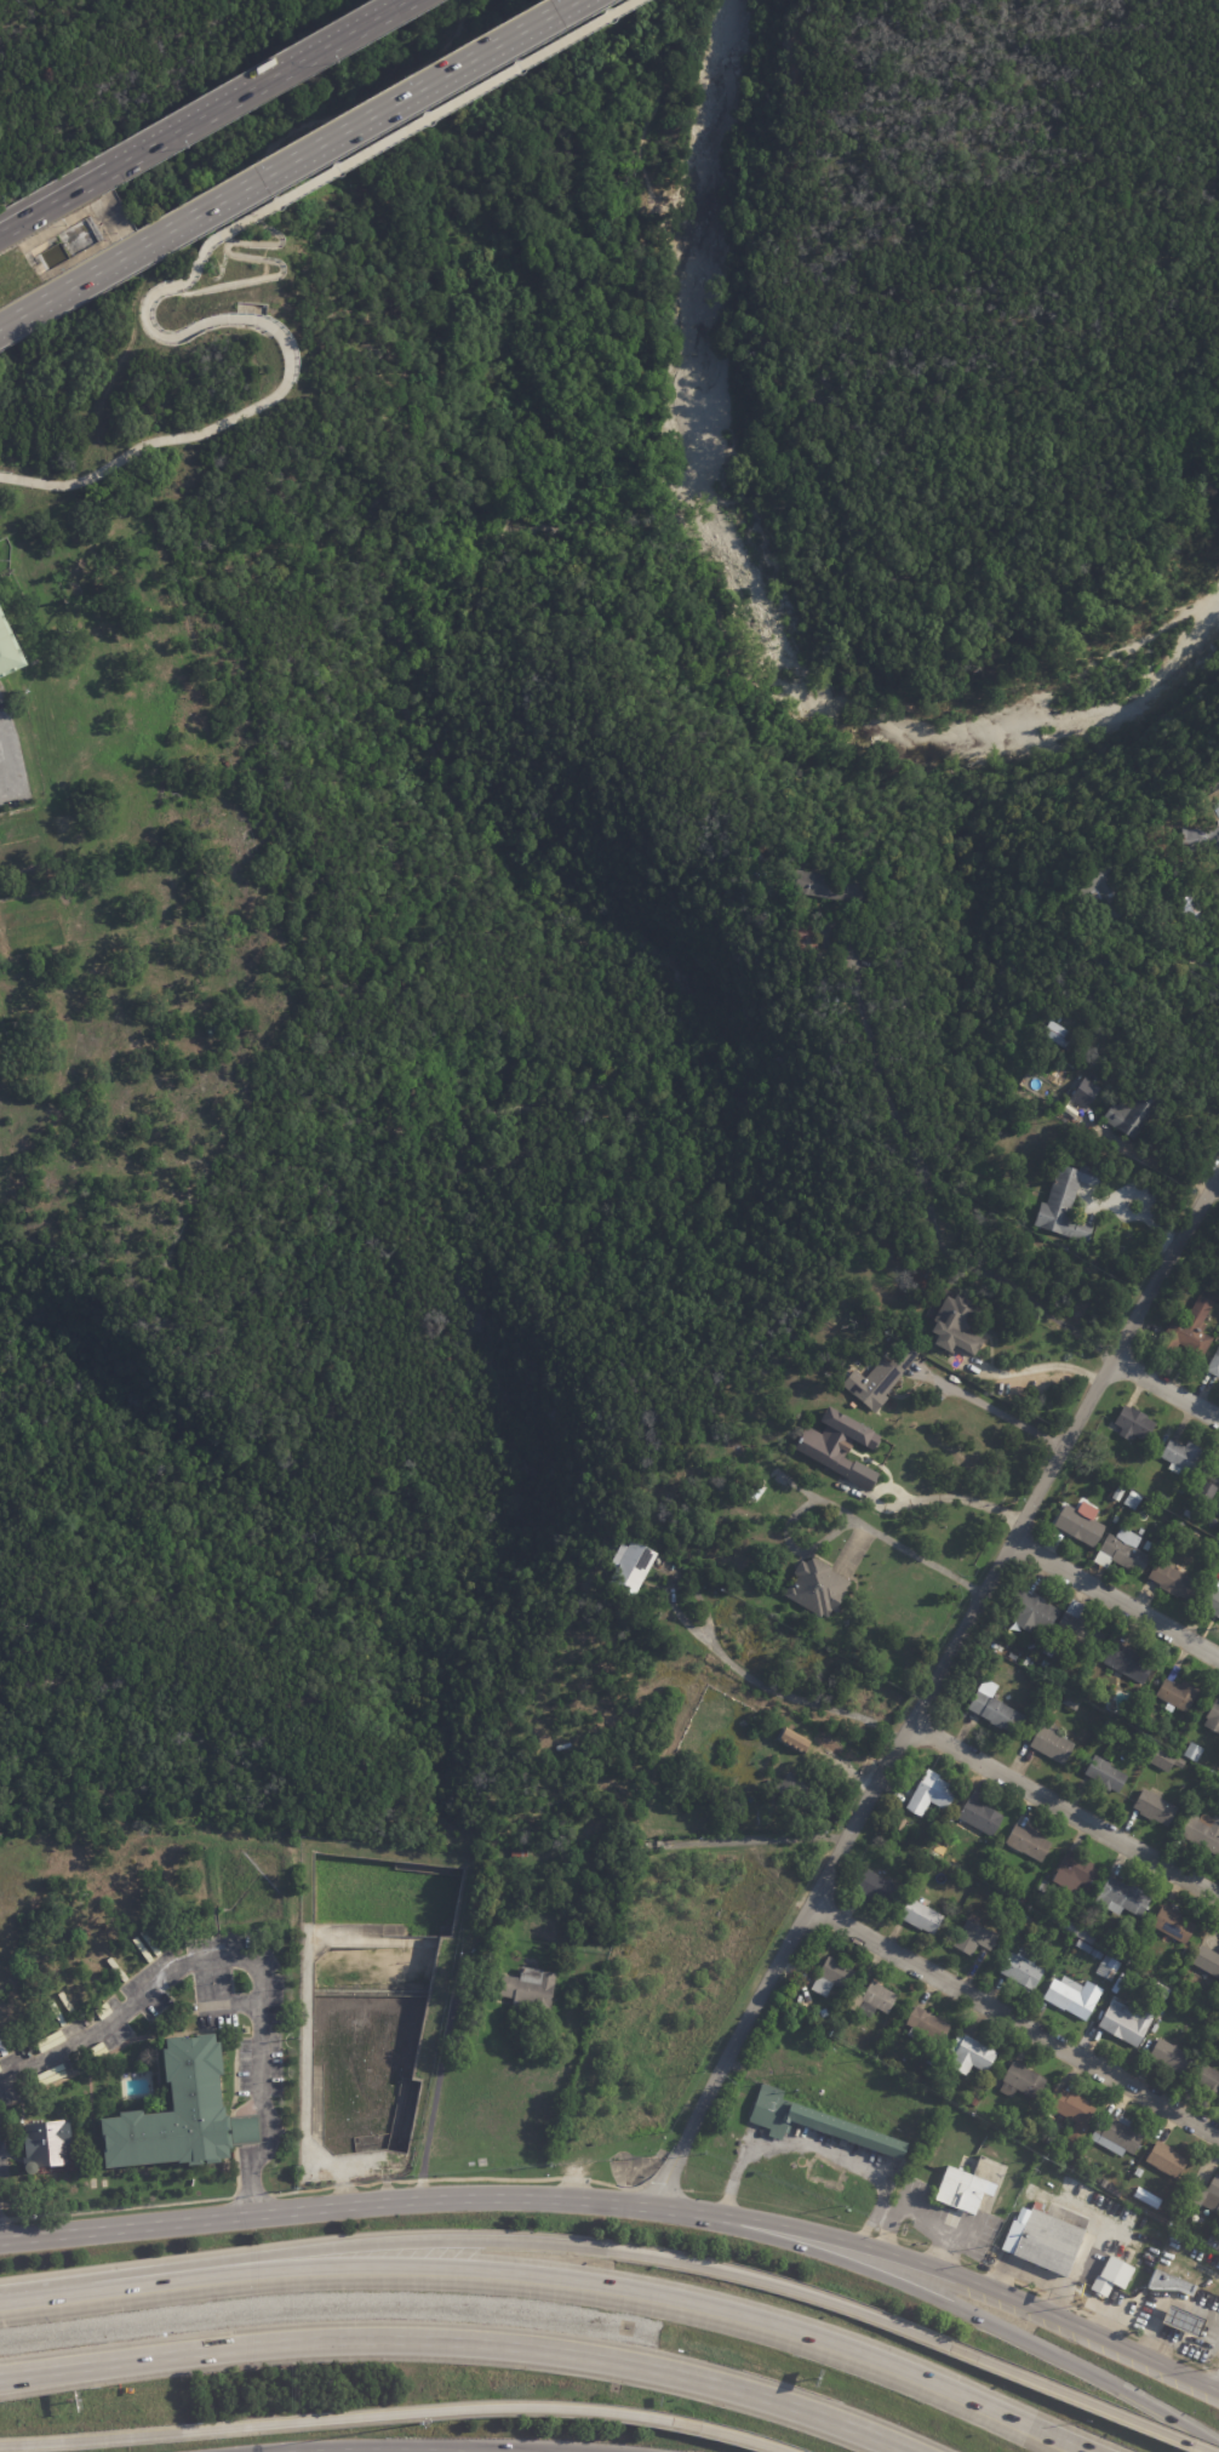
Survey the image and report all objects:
road: (791, 17)
road: (256, 85)
road: (361, 86)
road: (427, 115)
road: (366, 118)
road: (53, 200)
road: (642, 233)
road: (234, 255)
road: (79, 280)
road: (772, 303)
road: (287, 372)
road: (570, 484)
road: (654, 515)
road: (931, 564)
building: (8, 652)
road: (6, 776)
road: (891, 781)
building: (1201, 839)
building: (1104, 878)
building: (825, 887)
building: (1191, 907)
building: (808, 933)
building: (1120, 949)
road: (1186, 951)
building: (819, 955)
building: (1128, 960)
building: (217, 1025)
building: (1059, 1035)
building: (1075, 1059)
building: (1084, 1093)
building: (1134, 1114)
road: (513, 1156)
road: (1139, 1158)
road: (1215, 1177)
road: (925, 1191)
building: (1068, 1202)
road: (1179, 1231)
building: (1218, 1247)
building: (1183, 1288)
park: (371, 1324)
building: (957, 1325)
building: (1191, 1331)
road: (1045, 1362)
building: (1214, 1366)
building: (881, 1379)
road: (1164, 1382)
building: (852, 1407)
road: (997, 1410)
building: (1135, 1423)
building: (839, 1446)
building: (1183, 1456)
building: (1215, 1475)
building: (1204, 1491)
building: (765, 1493)
building: (1218, 1493)
building: (1163, 1498)
building: (1134, 1501)
road: (841, 1507)
building: (1187, 1514)
building: (1116, 1519)
building: (1082, 1522)
building: (1164, 1532)
building: (1123, 1550)
building: (1218, 1559)
building: (625, 1565)
building: (1175, 1582)
building: (819, 1589)
road: (1114, 1597)
building: (1213, 1600)
building: (1035, 1608)
building: (1080, 1628)
building: (1052, 1647)
building: (1129, 1662)
road: (737, 1663)
building: (1095, 1680)
building: (1178, 1693)
building: (1072, 1703)
building: (996, 1709)
building: (1213, 1717)
building: (1111, 1725)
building: (1053, 1743)
building: (800, 1744)
building: (1151, 1747)
building: (1110, 1751)
building: (1192, 1751)
road: (892, 1753)
building: (1167, 1760)
building: (1108, 1773)
building: (800, 1790)
building: (932, 1794)
building: (1181, 1805)
building: (1156, 1807)
road: (1064, 1810)
building: (982, 1814)
building: (900, 1824)
building: (1202, 1831)
building: (1029, 1842)
building: (521, 1850)
building: (1075, 1870)
building: (965, 1882)
building: (876, 1888)
building: (1123, 1898)
building: (1024, 1901)
building: (1038, 1903)
building: (921, 1916)
building: (1021, 1919)
building: (1008, 1920)
building: (1034, 1921)
building: (1175, 1924)
building: (1080, 1931)
building: (1045, 1932)
building: (975, 1938)
building: (1065, 1947)
building: (1083, 1947)
building: (1121, 1953)
building: (1187, 1953)
building: (1097, 1954)
building: (1057, 1957)
building: (1207, 1960)
building: (1108, 1968)
road: (178, 1971)
building: (1023, 1971)
building: (834, 1977)
parking lot: (208, 1984)
building: (526, 1990)
building: (1161, 1990)
building: (1074, 1996)
building: (874, 2000)
road: (1017, 2017)
building: (1126, 2023)
building: (928, 2027)
building: (0, 2053)
building: (972, 2054)
building: (1171, 2056)
parking lot: (270, 2065)
parking lot: (242, 2067)
building: (1209, 2080)
building: (1023, 2081)
road: (434, 2085)
building: (975, 2102)
building: (972, 2108)
building: (178, 2115)
building: (1071, 2115)
building: (814, 2121)
building: (1118, 2136)
building: (42, 2145)
road: (818, 2147)
road: (257, 2156)
road: (12, 2157)
building: (1166, 2160)
road: (493, 2178)
building: (961, 2187)
building: (1115, 2190)
building: (1206, 2195)
building: (1145, 2197)
road: (148, 2205)
road: (326, 2208)
building: (1021, 2214)
road: (921, 2216)
road: (1118, 2229)
road: (1091, 2233)
road: (1009, 2240)
building: (1047, 2240)
building: (1213, 2242)
road: (545, 2246)
road: (1035, 2271)
road: (368, 2274)
road: (944, 2274)
building: (1111, 2274)
building: (1168, 2280)
road: (65, 2294)
road: (946, 2304)
building: (1183, 2319)
road: (1149, 2321)
road: (1155, 2343)
road: (456, 2344)
road: (847, 2354)
road: (1218, 2390)
road: (1075, 2401)
road: (334, 2420)
street lamp: (418, 2423)
road: (727, 2434)
road: (573, 2447)
road: (373, 2451)

